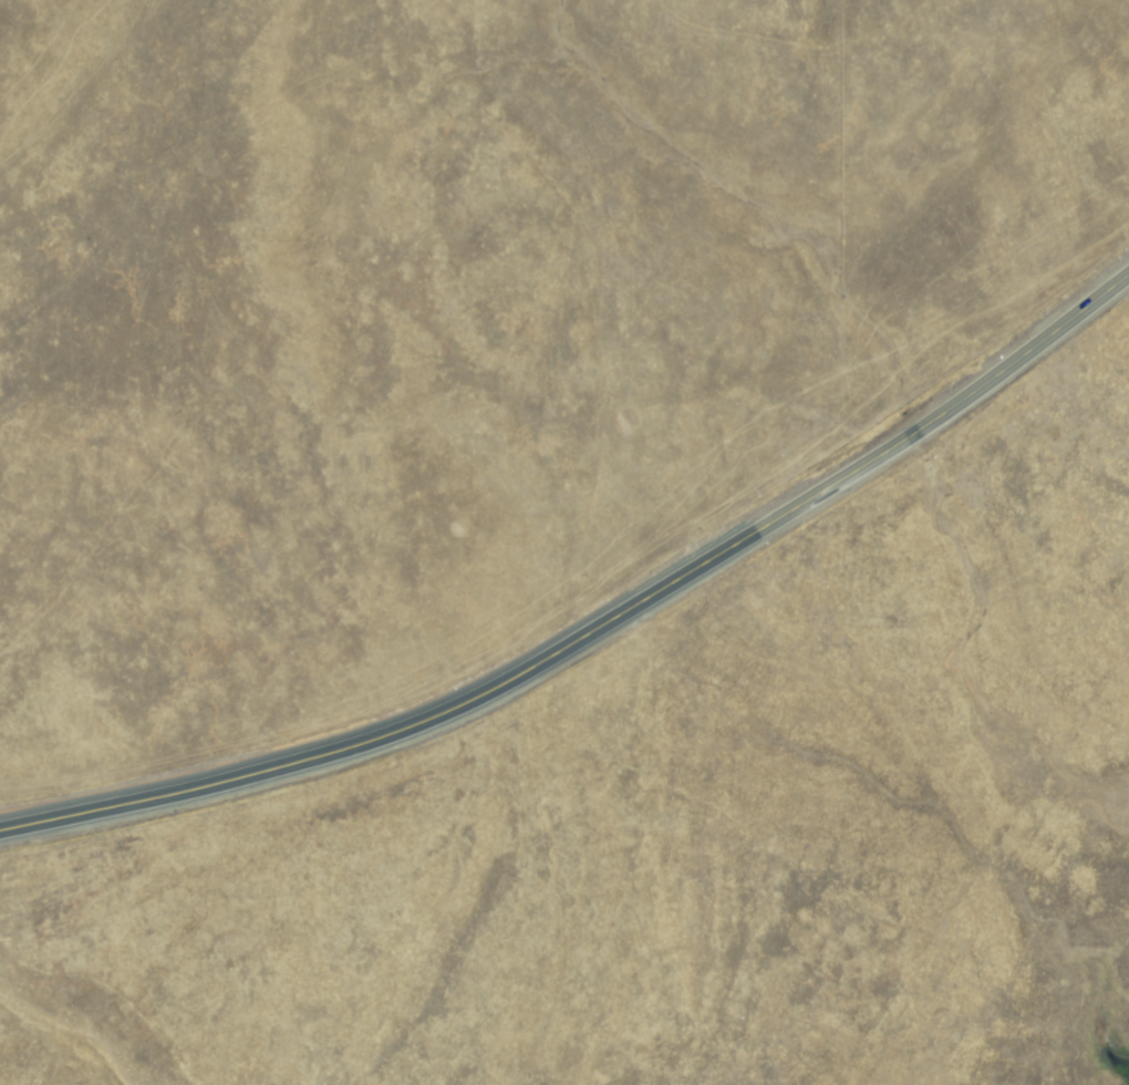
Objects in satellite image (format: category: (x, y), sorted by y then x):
road: (599, 627)

